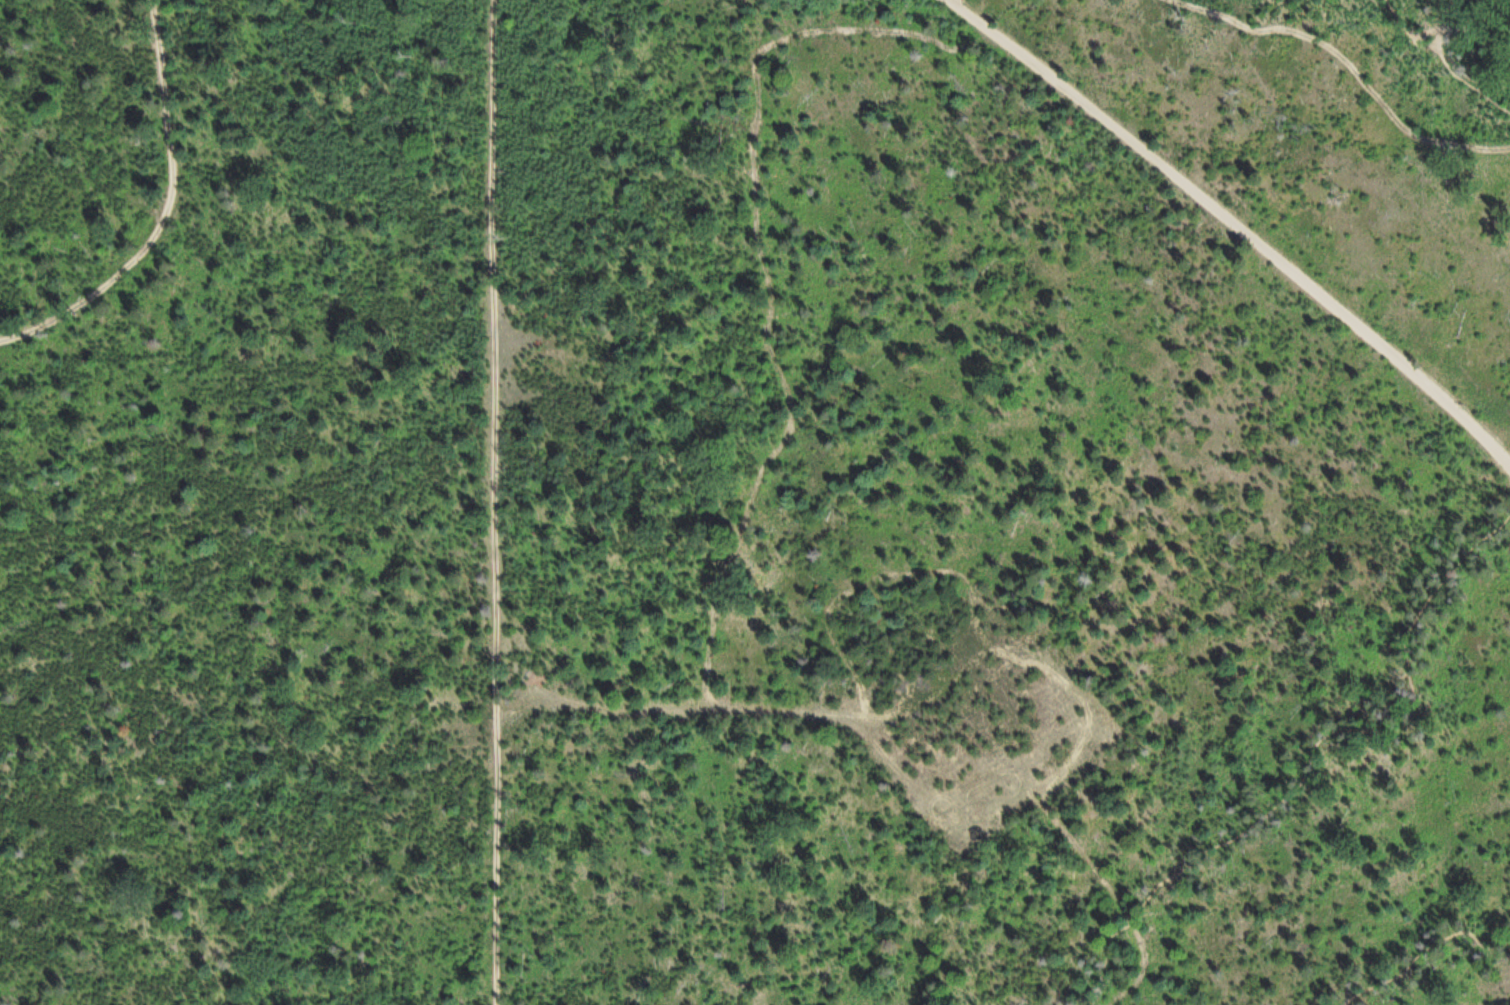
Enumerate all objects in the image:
road: (1439, 22)
road: (1449, 57)
road: (171, 215)
road: (1235, 224)
road: (497, 544)
road: (1310, 769)
road: (933, 818)
road: (499, 822)
road: (1418, 959)

